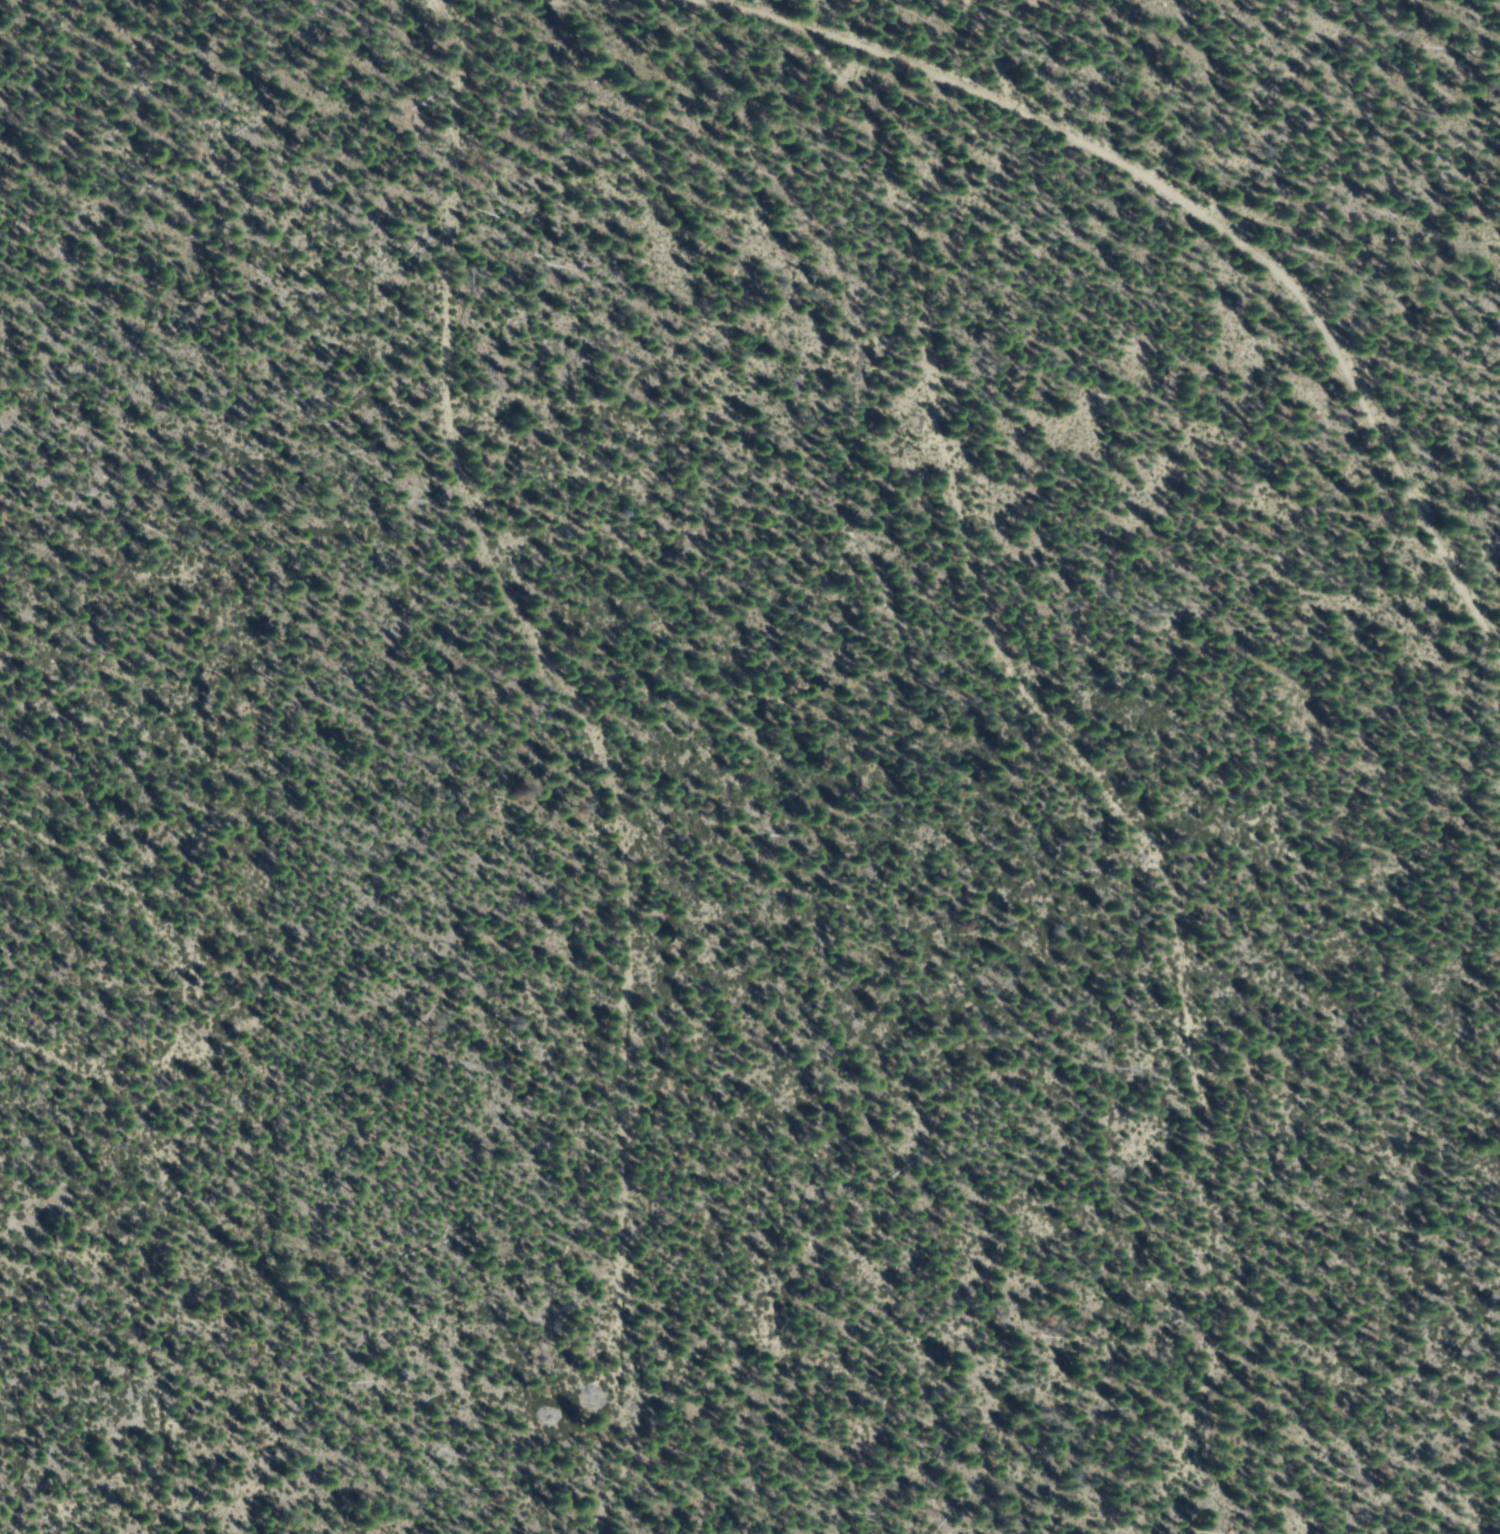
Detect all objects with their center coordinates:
road: (1135, 151)
road: (1406, 249)
road: (204, 985)
road: (90, 1058)
road: (190, 1362)
road: (165, 1527)

